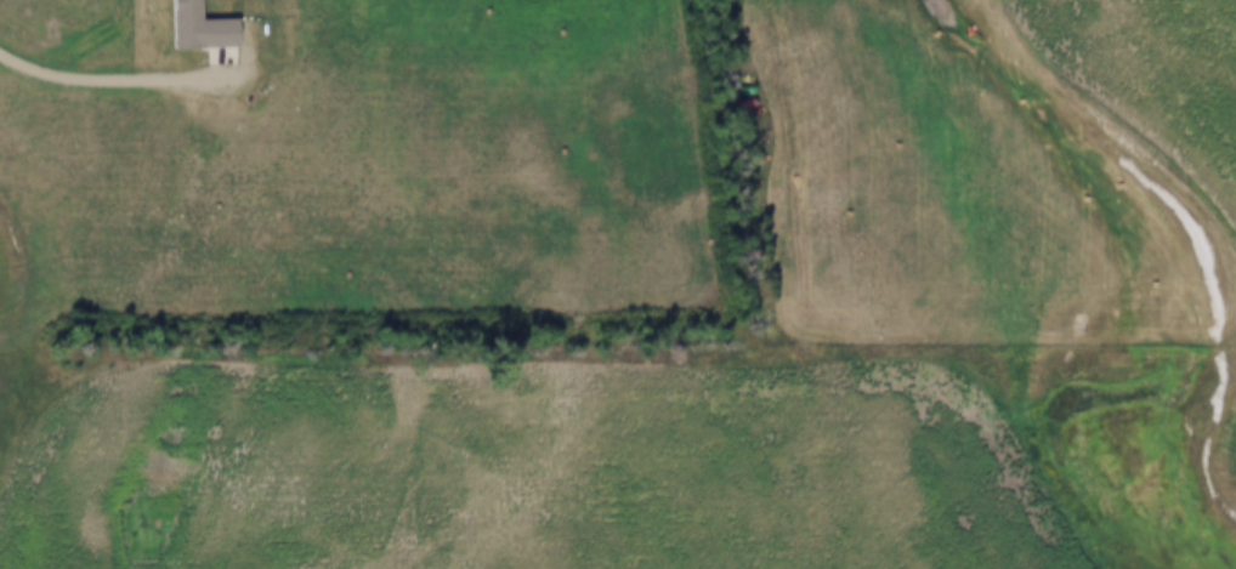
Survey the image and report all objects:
building: (193, 27)

